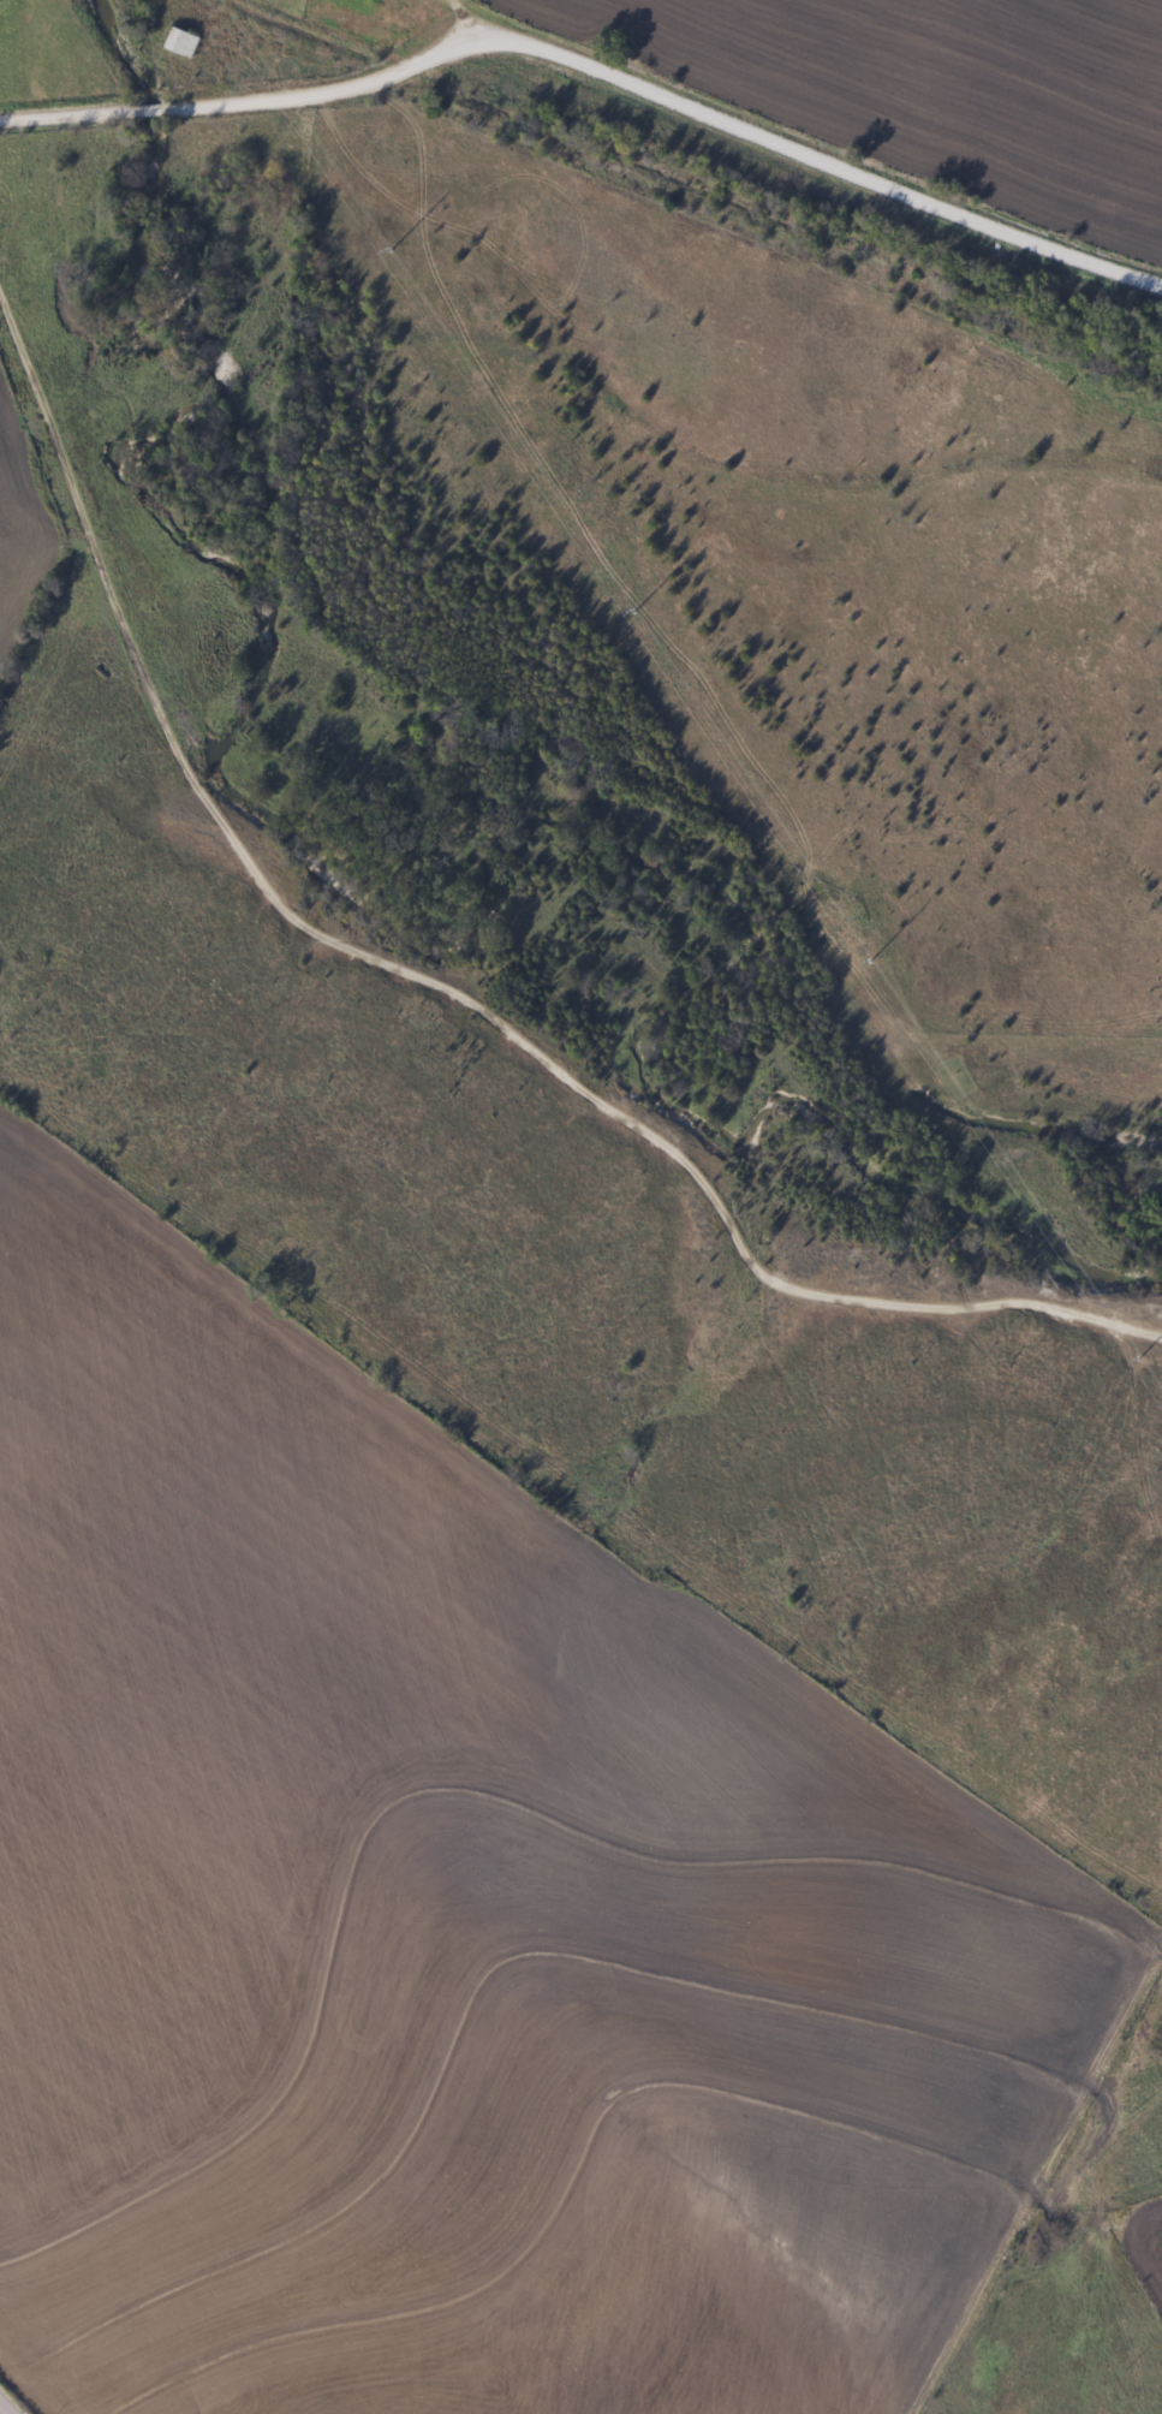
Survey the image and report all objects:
building: (178, 43)
road: (592, 71)
railway: (697, 182)
road: (455, 973)

